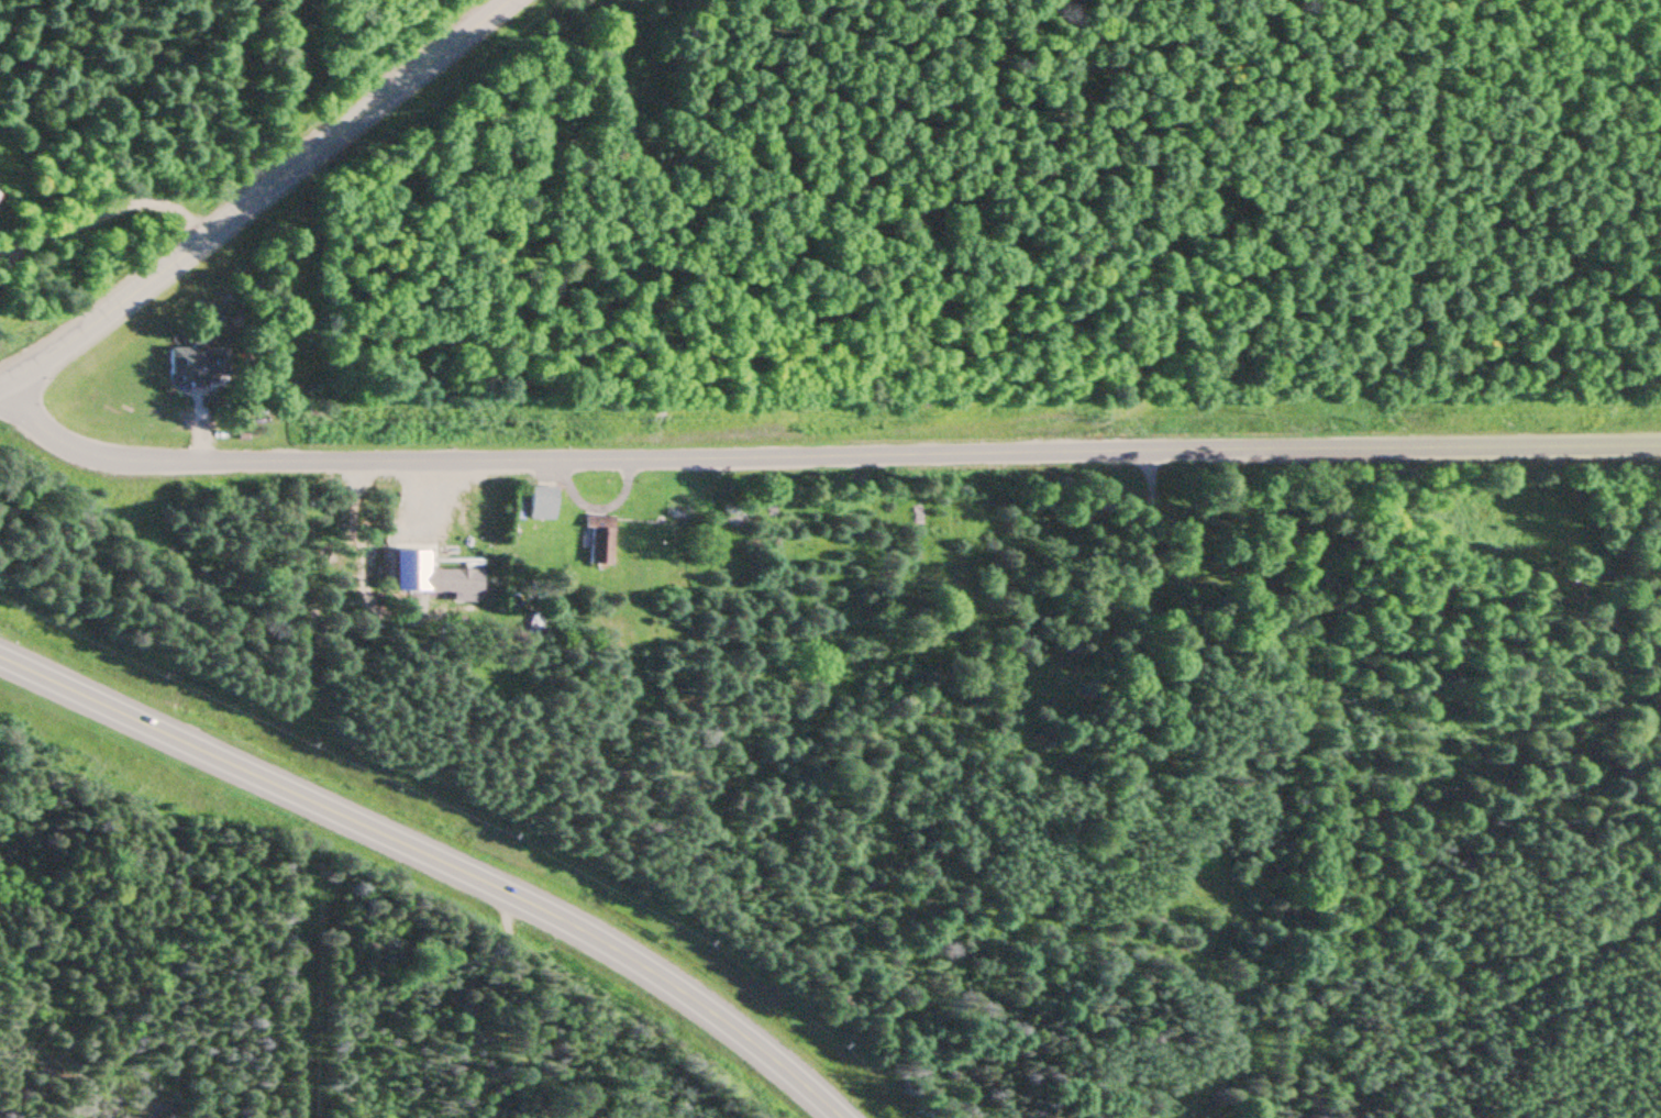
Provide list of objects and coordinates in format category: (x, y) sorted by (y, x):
road: (1544, 92)
road: (254, 197)
road: (106, 217)
building: (196, 365)
road: (819, 456)
building: (541, 502)
building: (679, 511)
park: (1222, 536)
building: (597, 539)
building: (414, 580)
building: (456, 580)
road: (435, 859)
road: (513, 1008)

